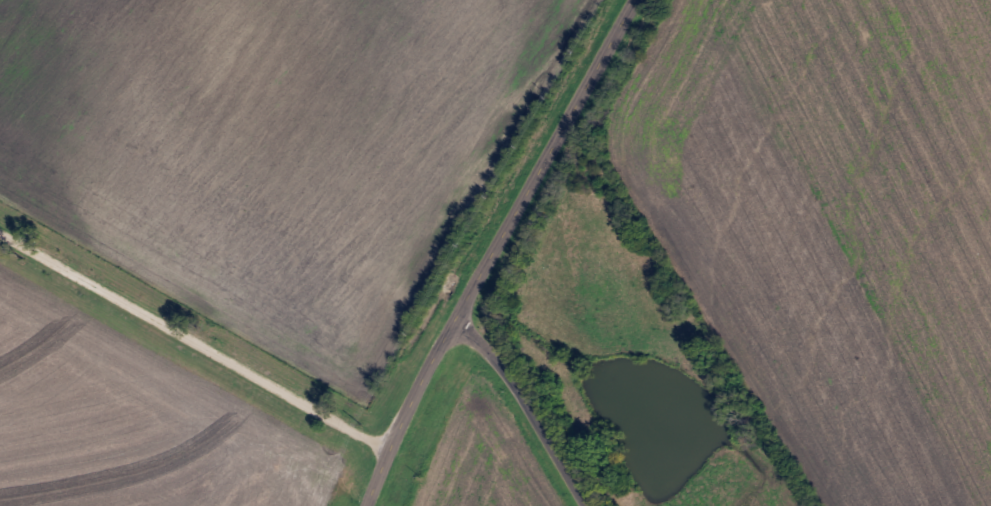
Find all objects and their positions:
road: (487, 248)
road: (193, 344)
road: (523, 405)

